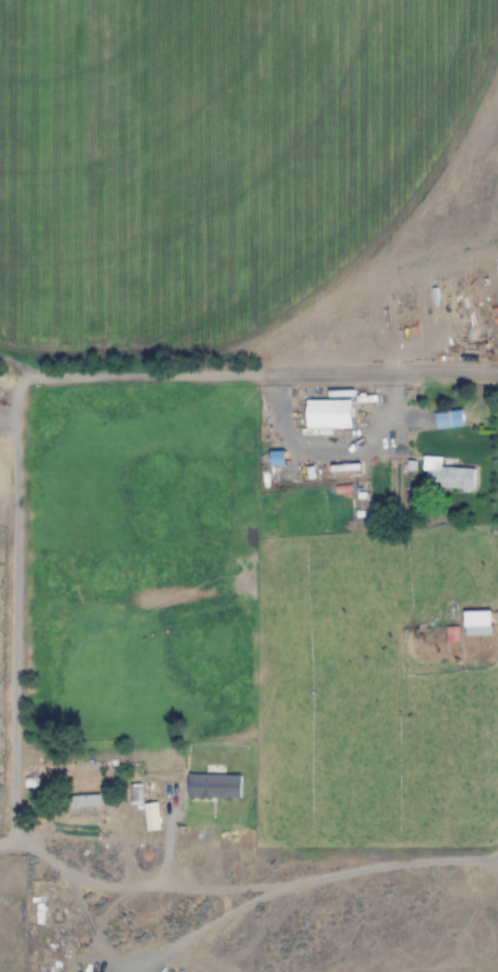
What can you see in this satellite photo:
road: (26, 390)
building: (330, 414)
building: (452, 478)
crop: (249, 486)
building: (479, 623)
building: (454, 634)
building: (216, 787)
building: (137, 795)
building: (86, 807)
building: (154, 817)

